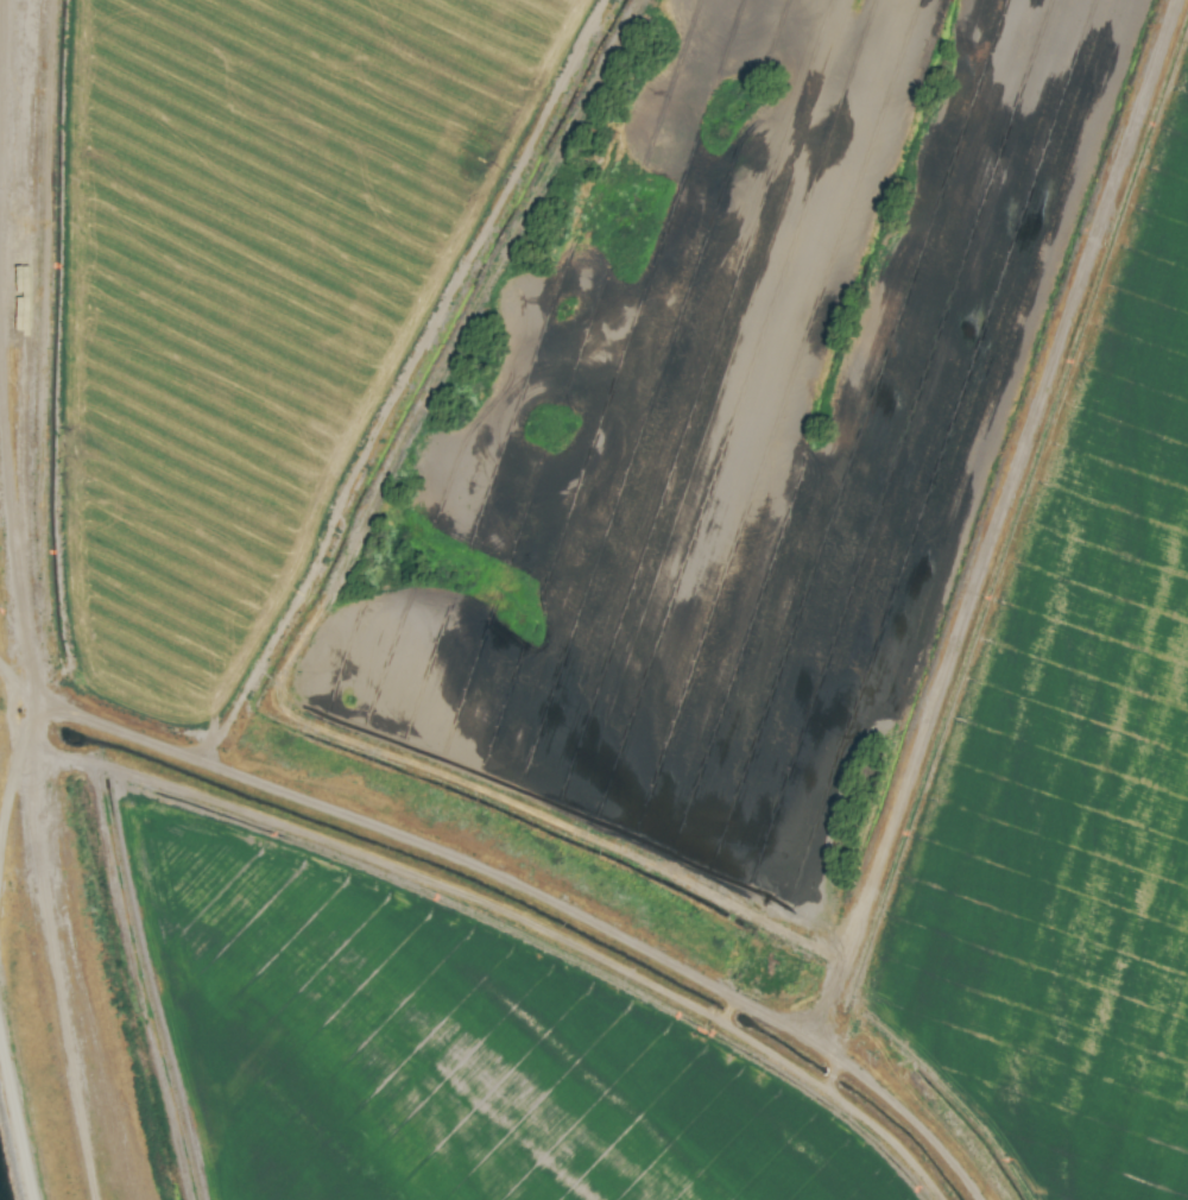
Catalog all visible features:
crop: (607, 592)
road: (17, 1111)

